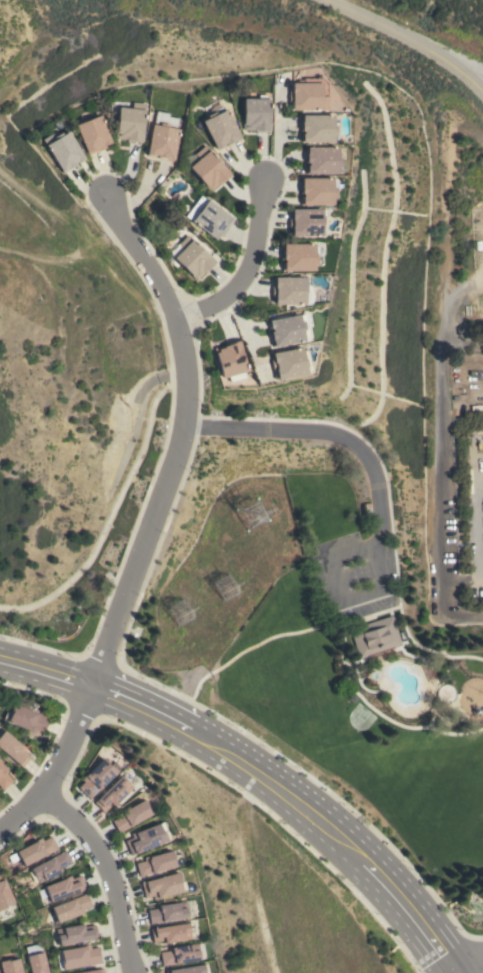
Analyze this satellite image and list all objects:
road: (410, 38)
building: (309, 95)
building: (256, 114)
building: (131, 122)
building: (221, 128)
building: (317, 128)
building: (94, 134)
building: (163, 136)
building: (64, 150)
building: (321, 160)
building: (209, 168)
building: (317, 191)
building: (208, 217)
building: (305, 222)
building: (299, 257)
building: (194, 259)
road: (250, 269)
building: (289, 290)
park: (459, 313)
building: (288, 330)
road: (464, 340)
building: (230, 360)
building: (290, 364)
building: (458, 386)
road: (340, 431)
road: (445, 463)
power tower: (248, 519)
road: (154, 521)
road: (476, 526)
power tower: (226, 593)
power tower: (178, 618)
building: (374, 636)
building: (26, 718)
building: (13, 748)
road: (266, 767)
building: (4, 777)
building: (96, 778)
road: (245, 785)
building: (113, 793)
building: (130, 816)
building: (146, 838)
building: (35, 850)
building: (155, 863)
building: (50, 866)
road: (109, 871)
building: (163, 886)
building: (64, 887)
building: (4, 894)
building: (71, 908)
building: (167, 912)
building: (76, 933)
building: (171, 933)
building: (180, 954)
building: (80, 956)
building: (37, 963)
building: (11, 966)
building: (190, 969)
road: (478, 969)
building: (93, 971)

